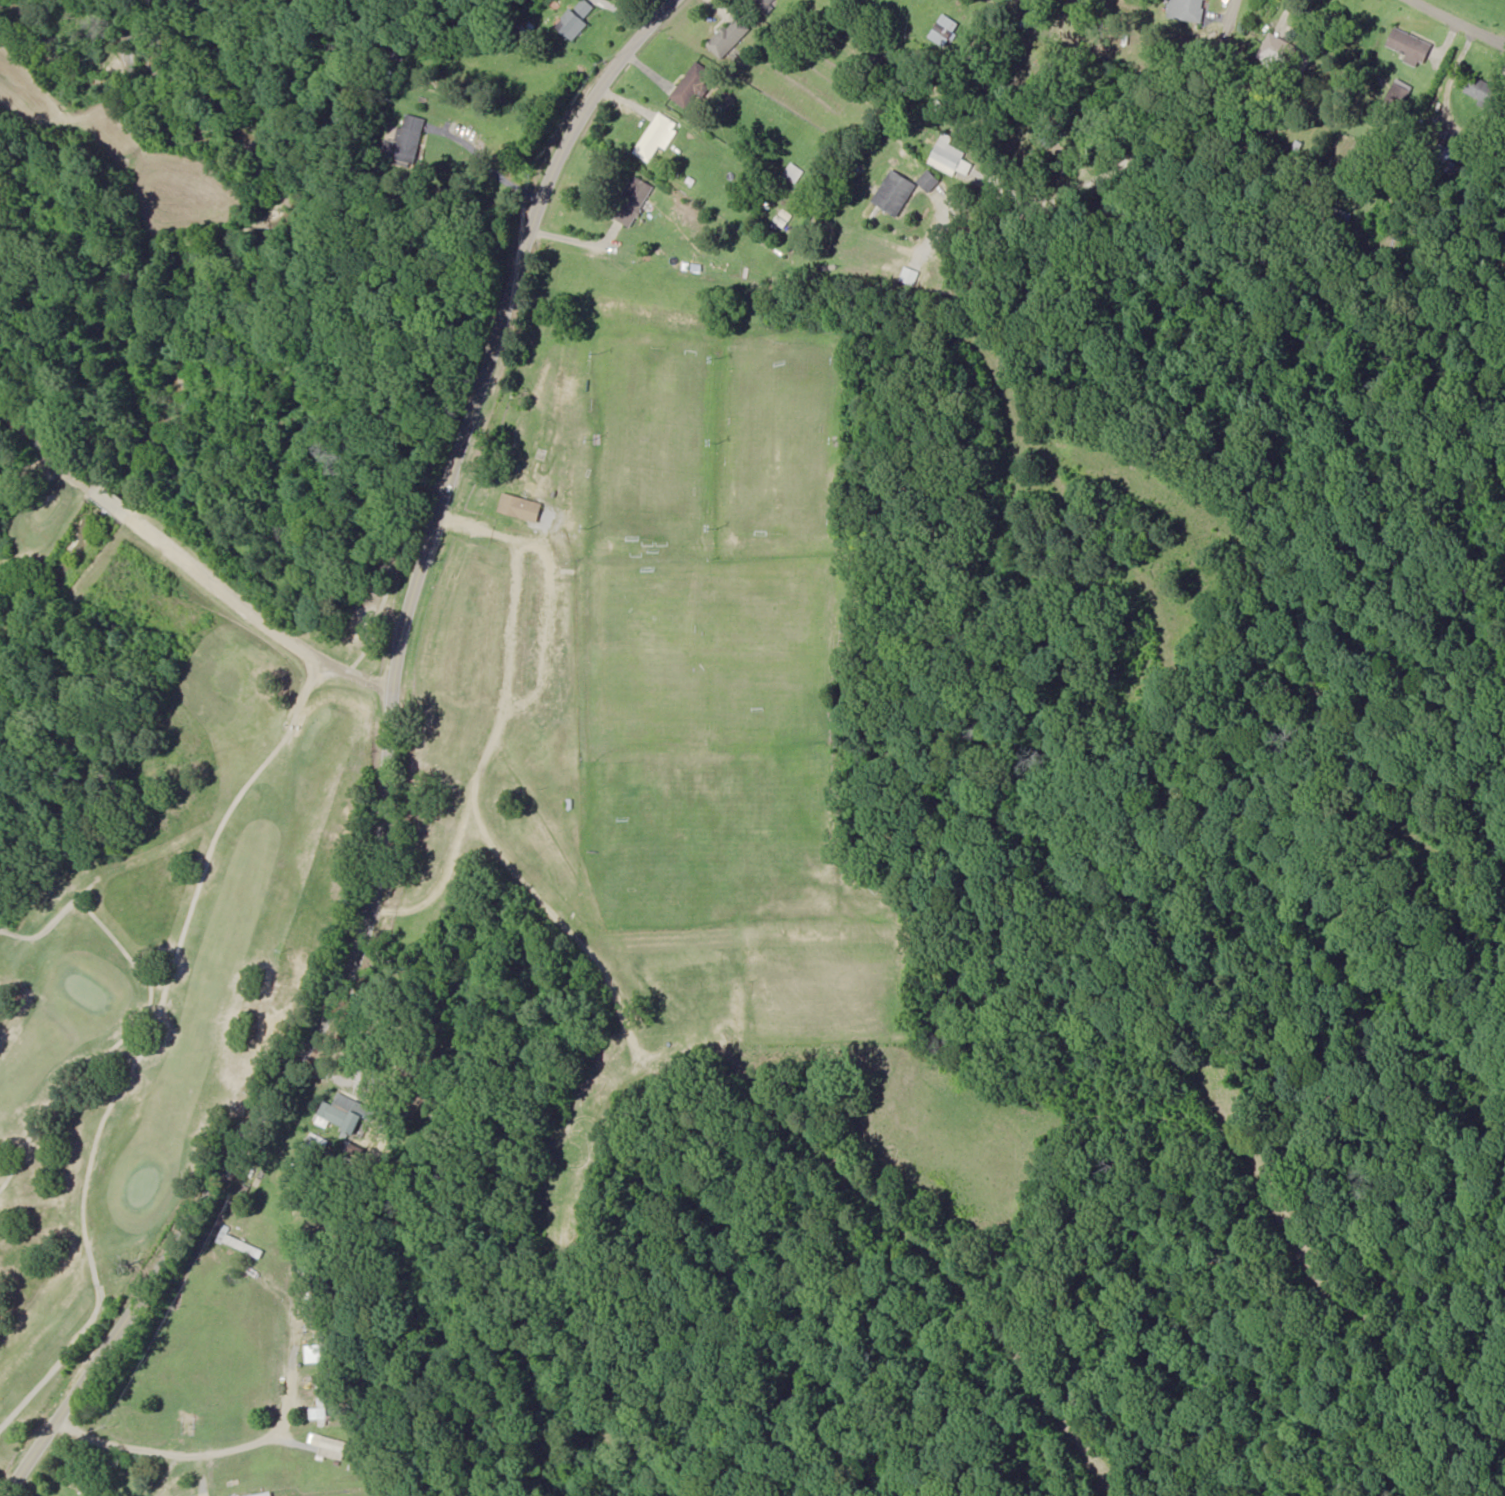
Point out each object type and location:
building: (765, 3)
building: (1186, 9)
building: (577, 19)
road: (1418, 30)
building: (730, 37)
building: (1408, 45)
building: (1273, 51)
building: (693, 85)
building: (1480, 89)
building: (657, 136)
building: (409, 141)
building: (947, 154)
building: (1445, 156)
building: (793, 172)
building: (928, 180)
building: (894, 192)
building: (635, 201)
building: (524, 506)
road: (187, 587)
road: (406, 775)
park: (139, 915)
building: (349, 1115)
building: (243, 1245)
building: (308, 1282)
building: (321, 1409)
road: (392, 1431)
building: (336, 1448)
building: (268, 1494)

